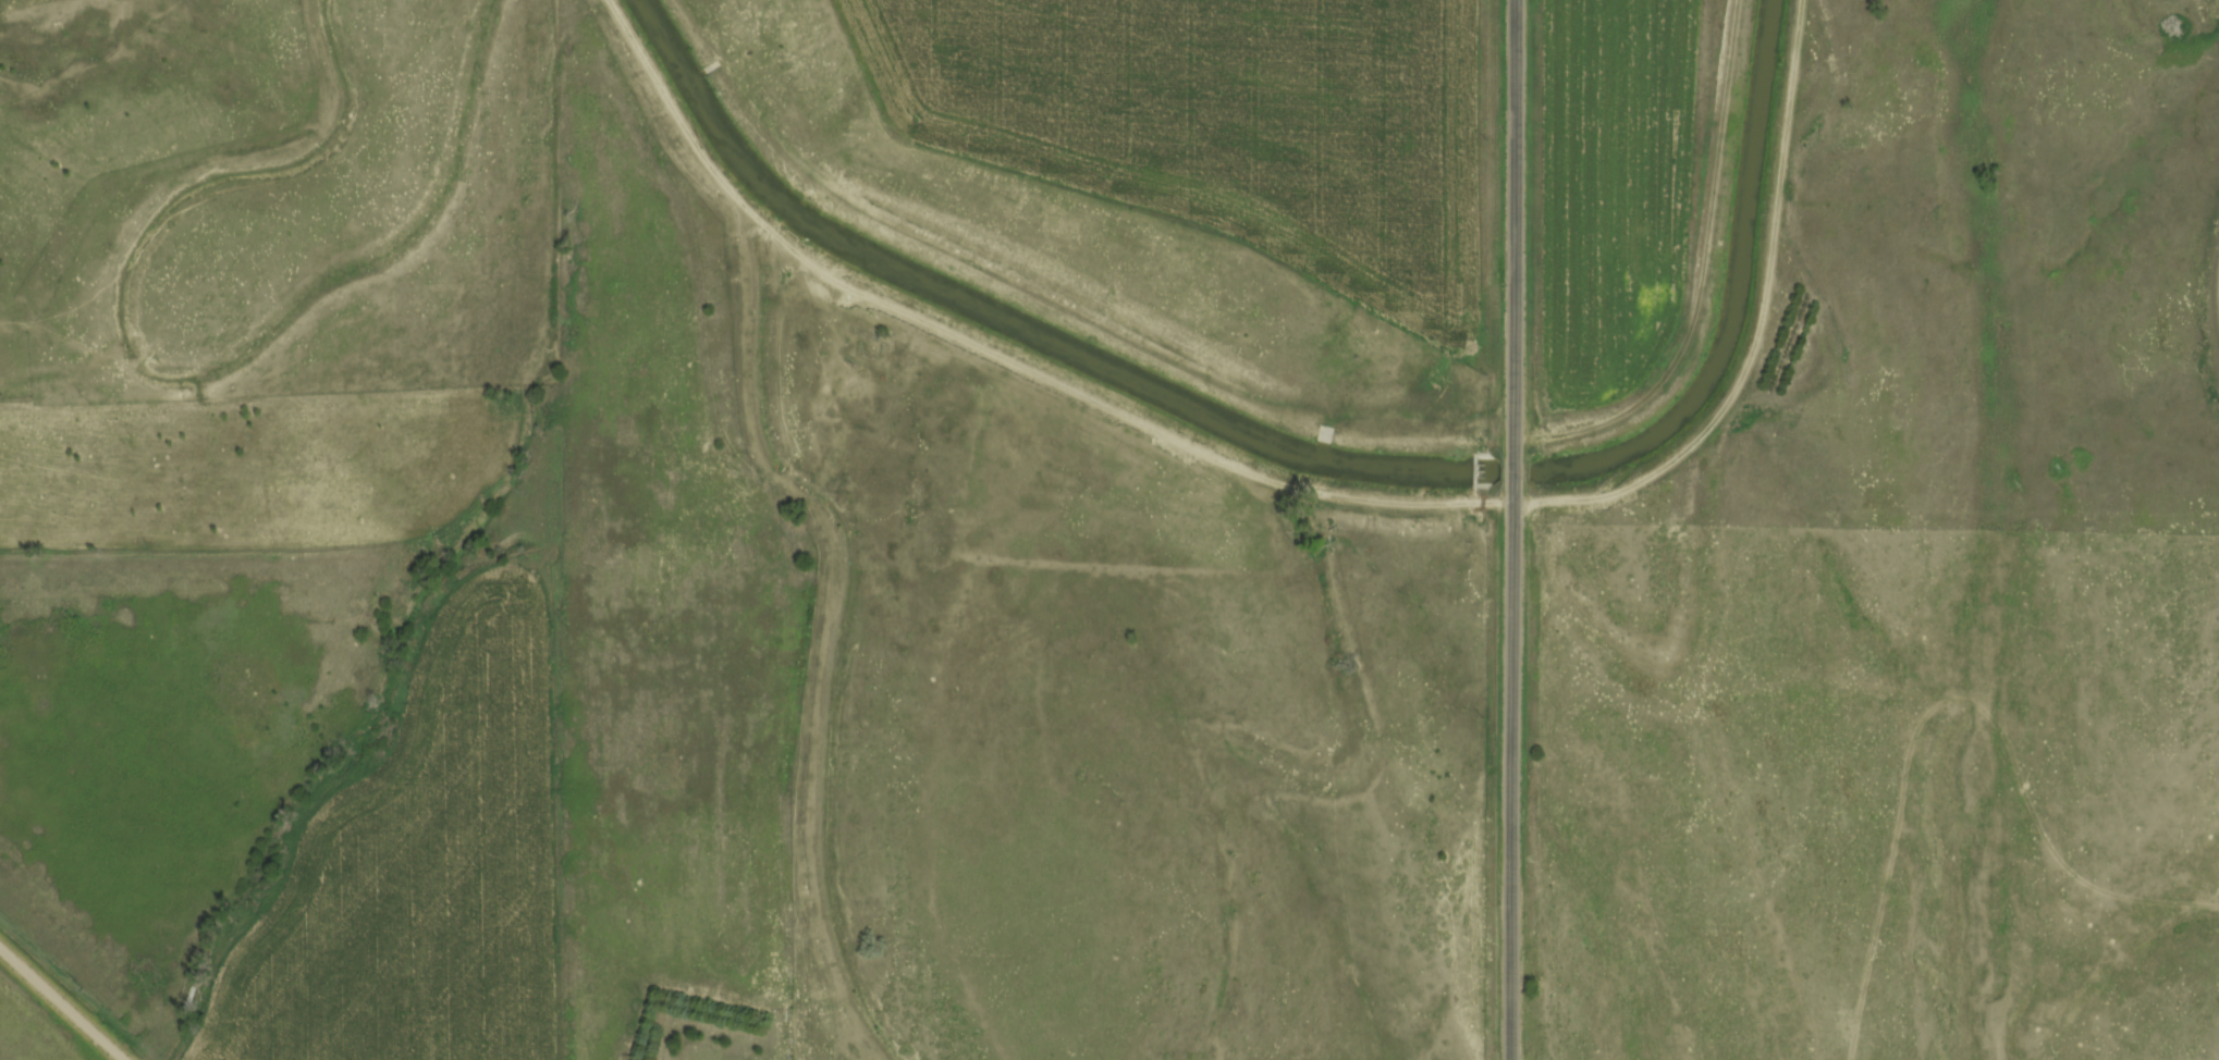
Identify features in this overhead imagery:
crop: (1608, 188)
road: (1300, 489)
road: (1512, 530)
road: (64, 1002)

